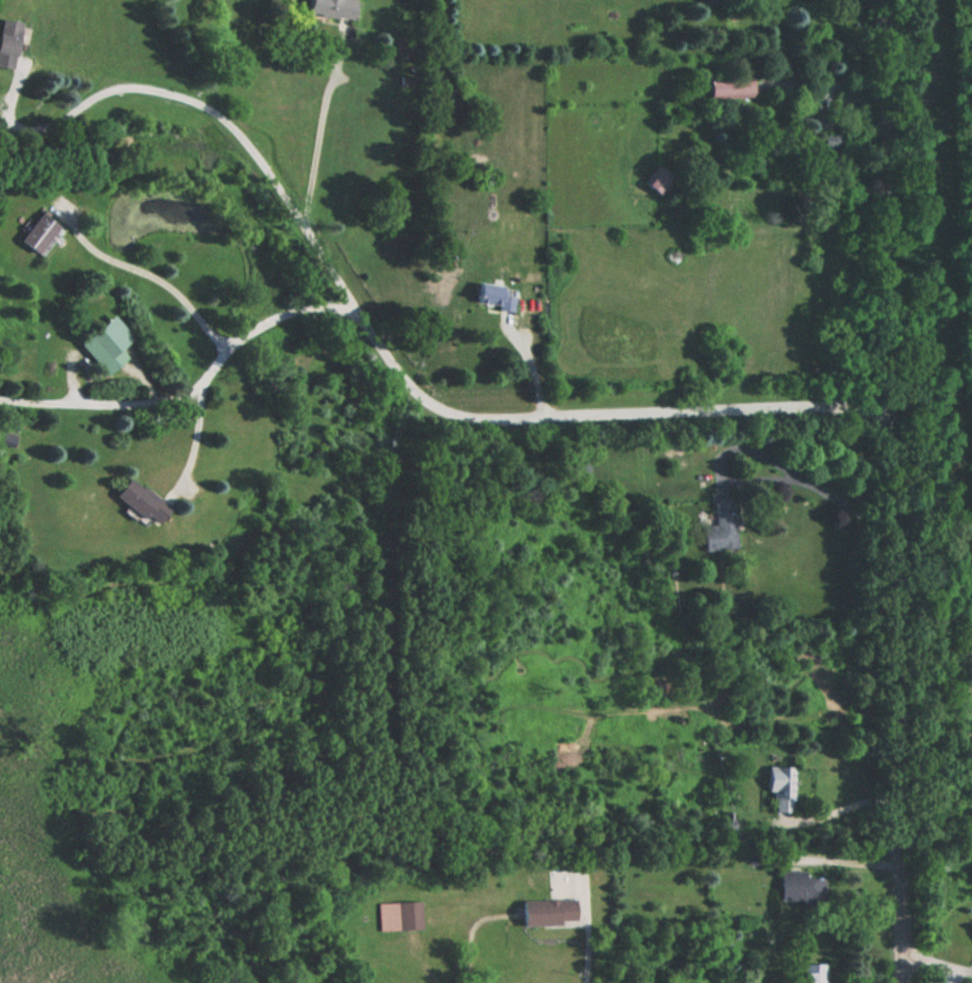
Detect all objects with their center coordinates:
building: (710, 2)
building: (331, 9)
building: (8, 43)
building: (729, 89)
road: (320, 136)
building: (656, 180)
building: (38, 234)
road: (163, 277)
building: (494, 297)
road: (384, 343)
building: (105, 345)
road: (192, 386)
road: (195, 434)
road: (756, 482)
road: (893, 491)
building: (140, 502)
building: (721, 527)
building: (780, 790)
road: (850, 801)
road: (848, 861)
building: (800, 888)
building: (548, 913)
building: (399, 917)
road: (586, 957)
road: (934, 961)
building: (813, 973)

